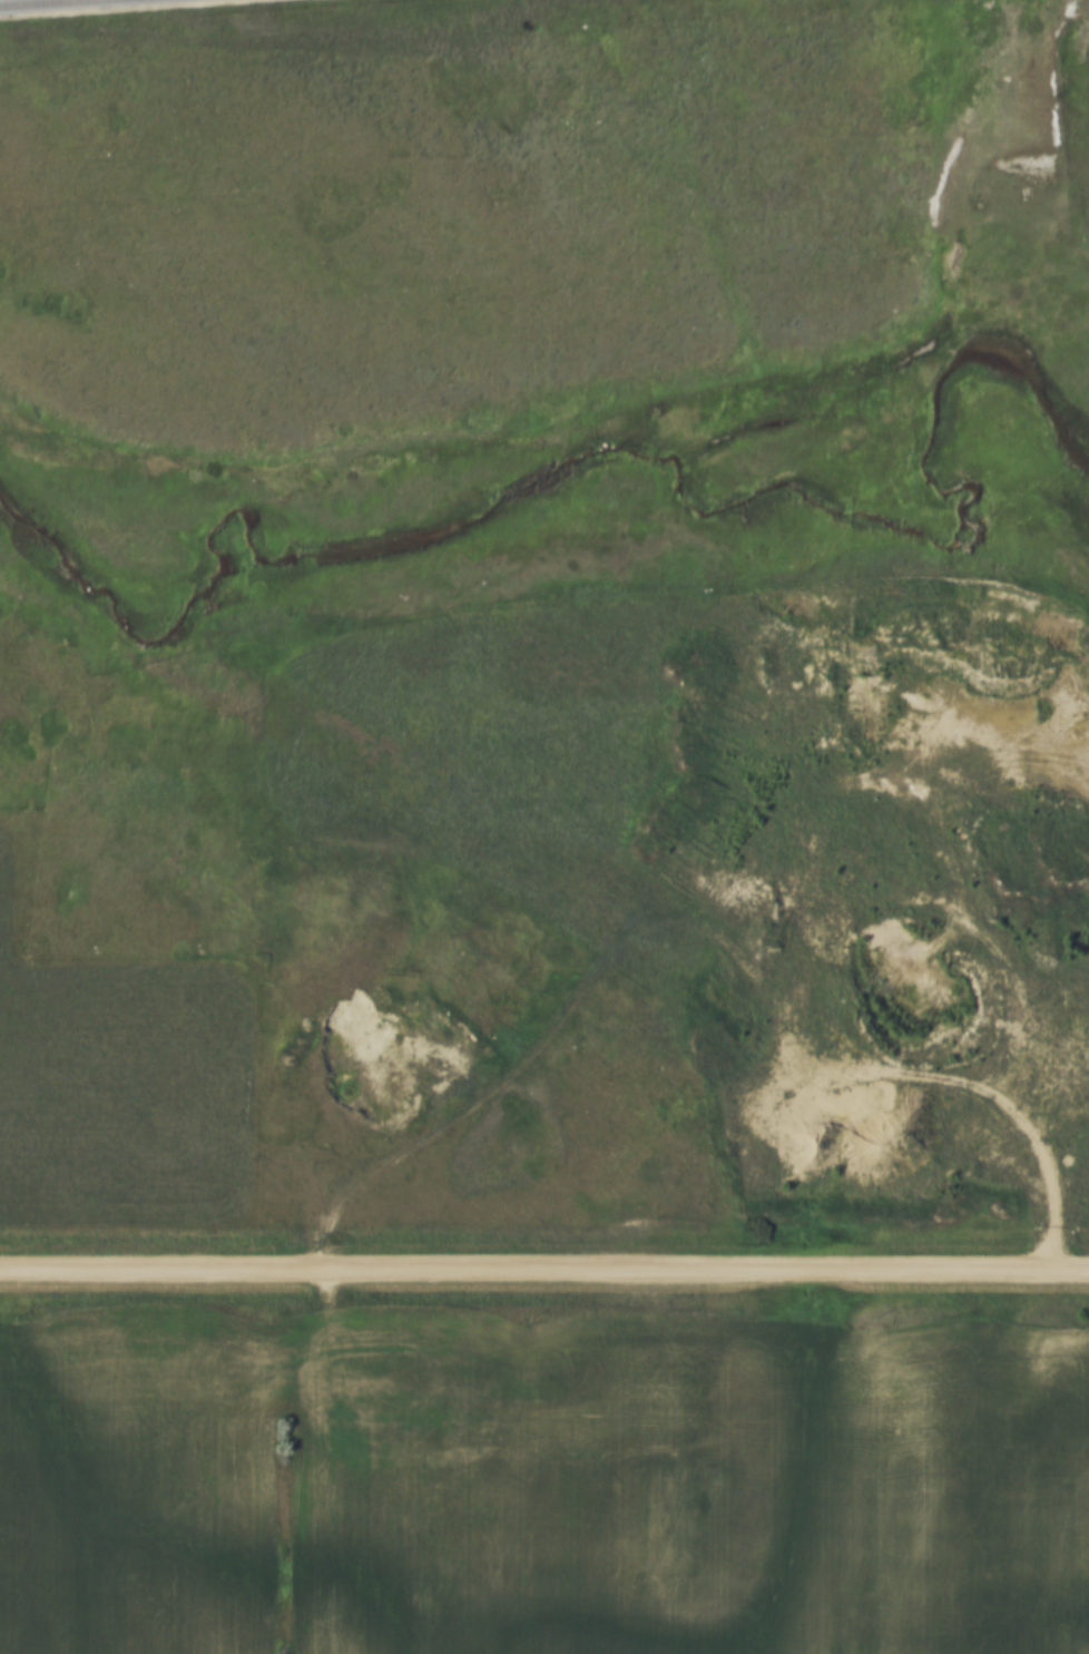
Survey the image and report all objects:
railway: (17, 1)
road: (544, 1269)

